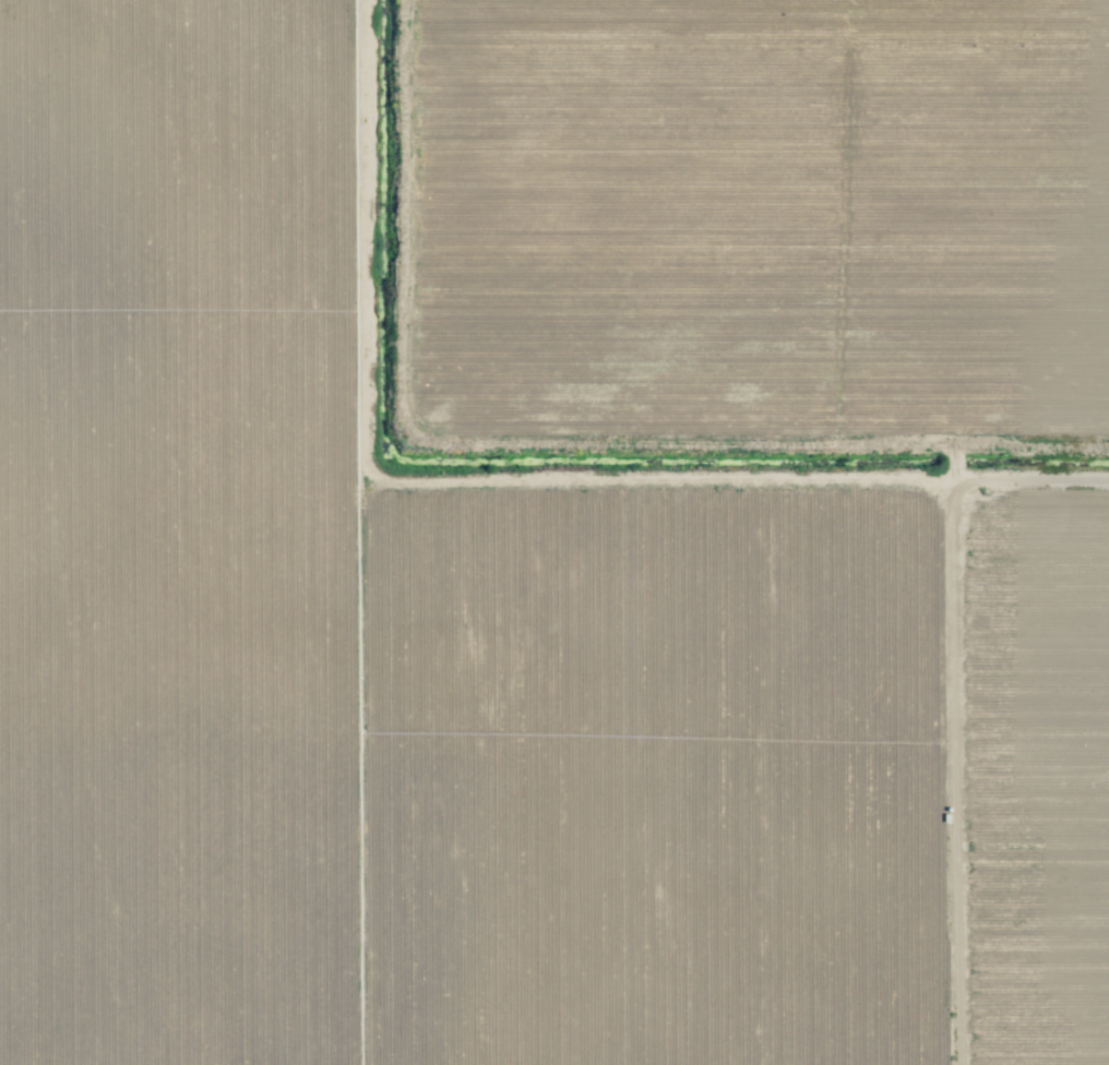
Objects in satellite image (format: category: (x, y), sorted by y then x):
crop: (554, 532)

